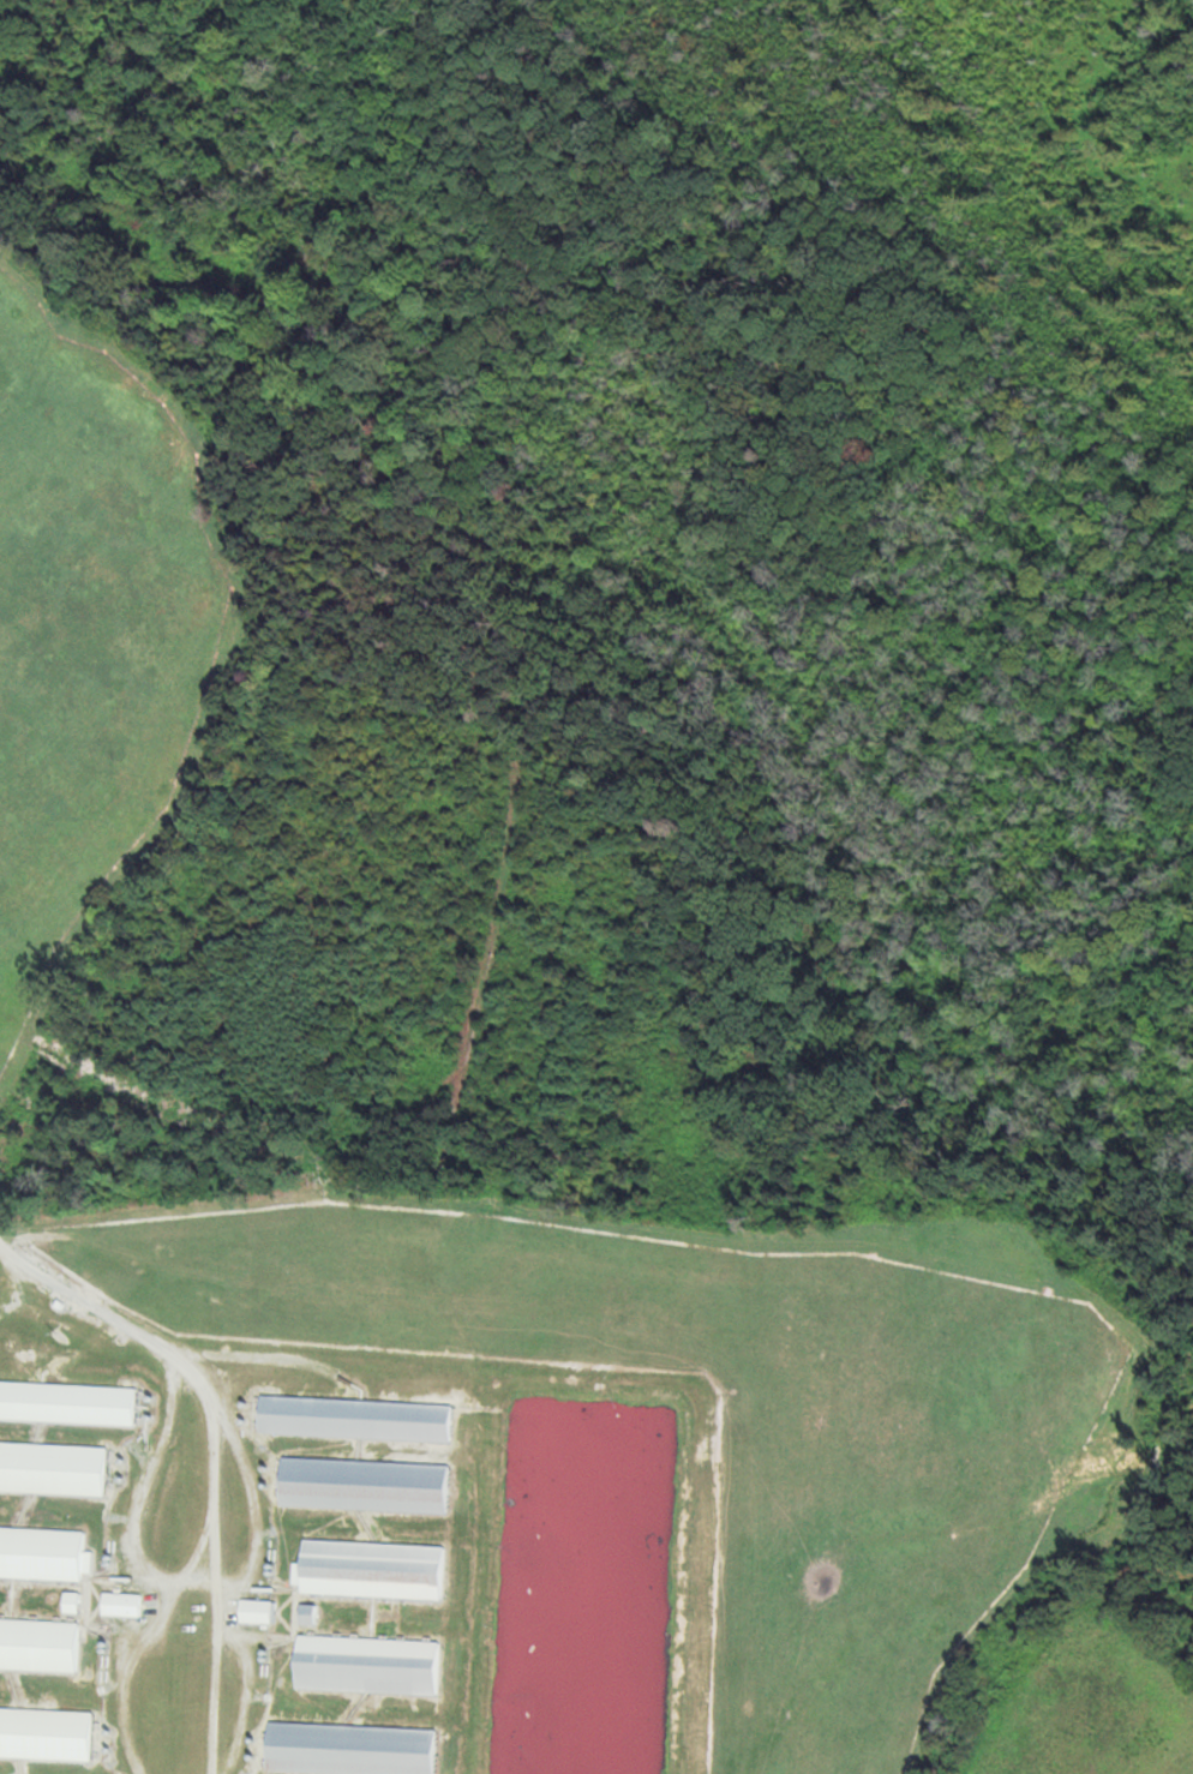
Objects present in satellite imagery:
road: (98, 1307)
building: (70, 1402)
building: (358, 1416)
building: (54, 1467)
building: (366, 1484)
building: (44, 1552)
building: (374, 1568)
building: (124, 1602)
building: (260, 1610)
building: (311, 1612)
building: (41, 1643)
building: (370, 1664)
building: (47, 1732)
building: (352, 1748)

